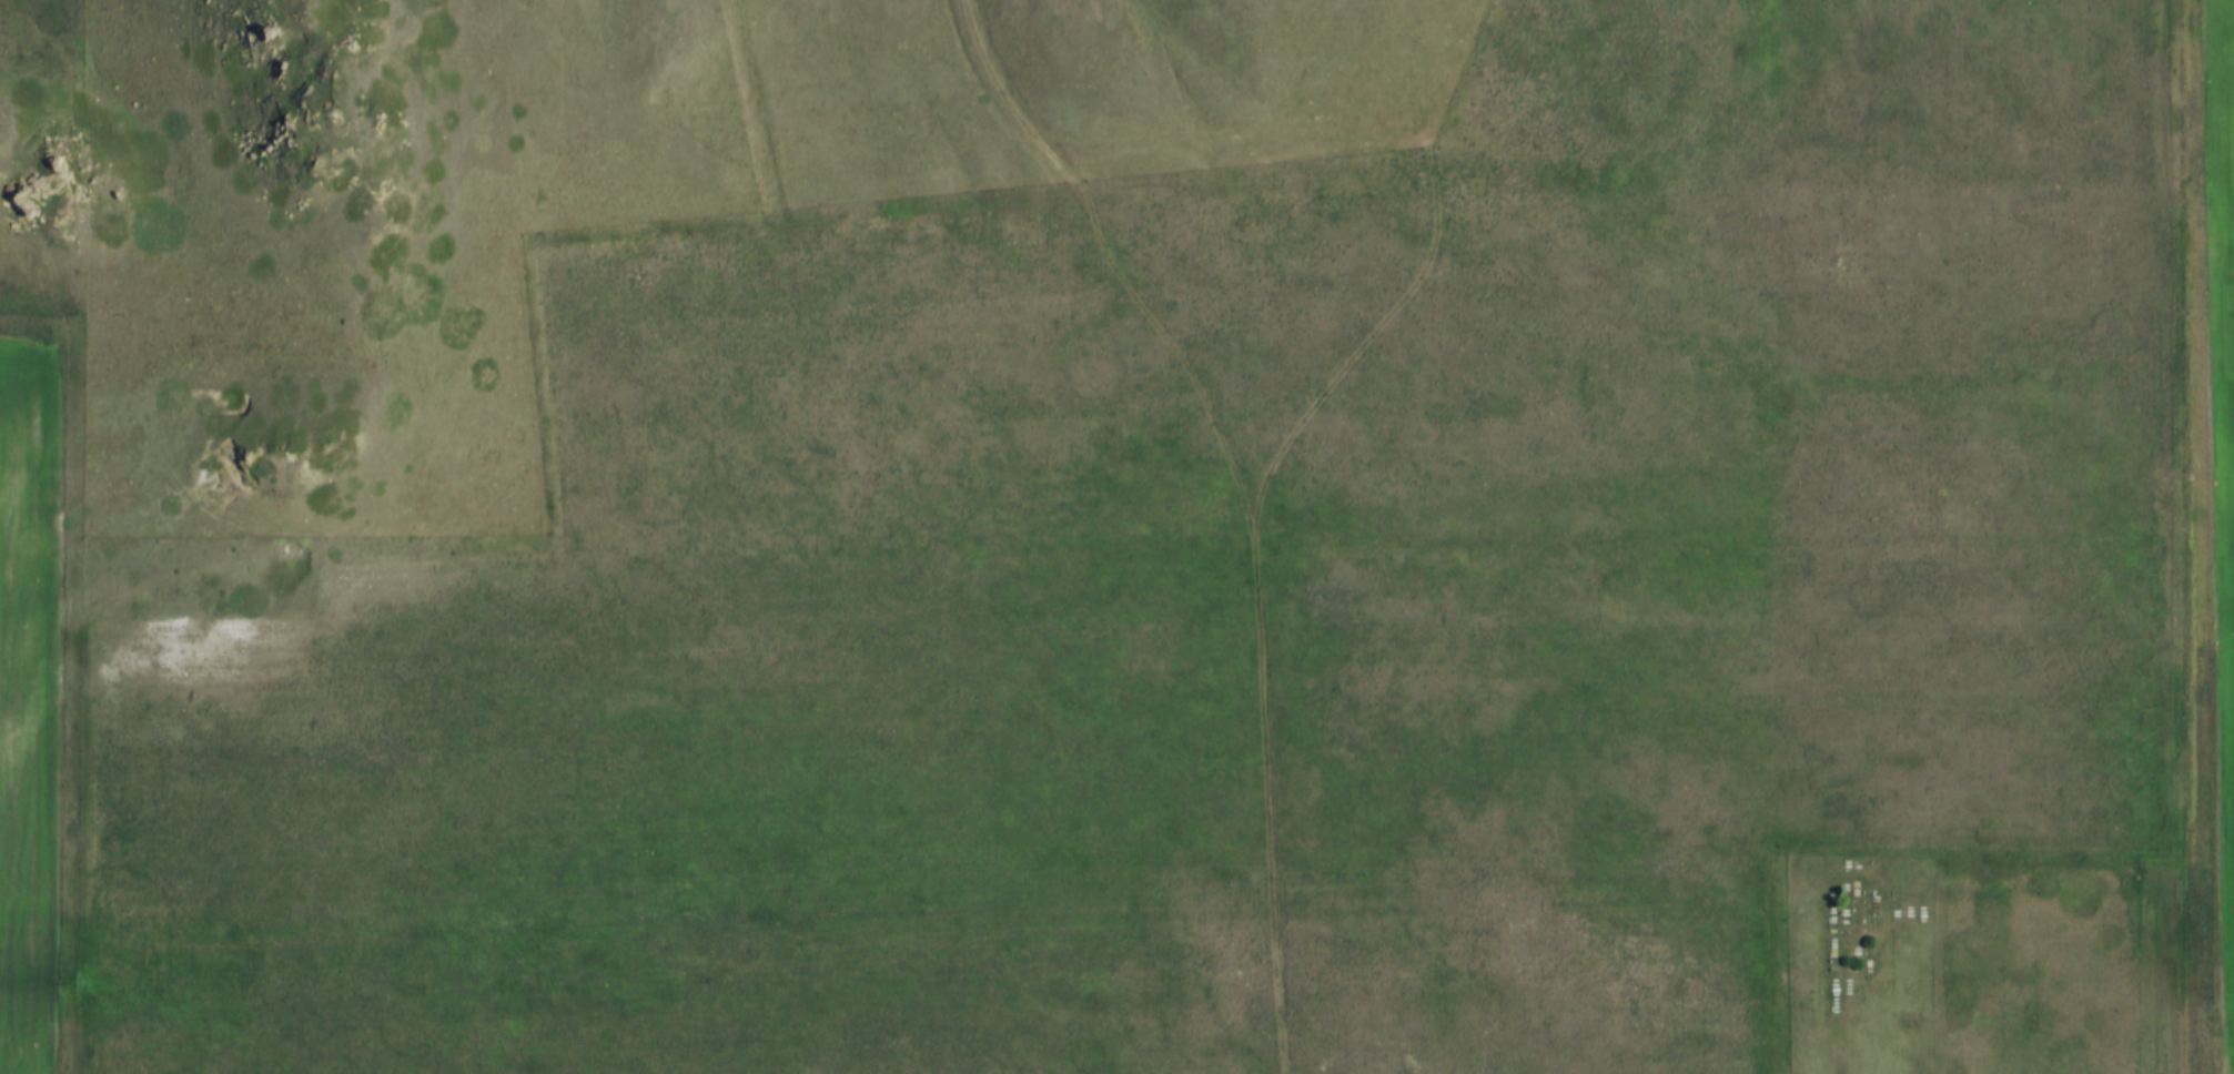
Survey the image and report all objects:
road: (1247, 498)
road: (67, 659)
building: (1043, 780)
building: (976, 812)
park: (1863, 961)
road: (1894, 991)

